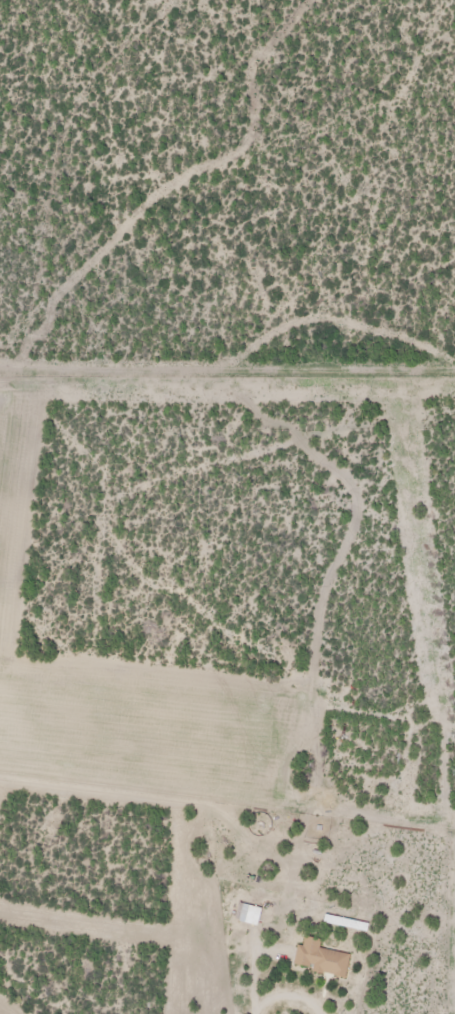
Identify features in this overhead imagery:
building: (249, 914)
building: (344, 922)
building: (321, 958)

